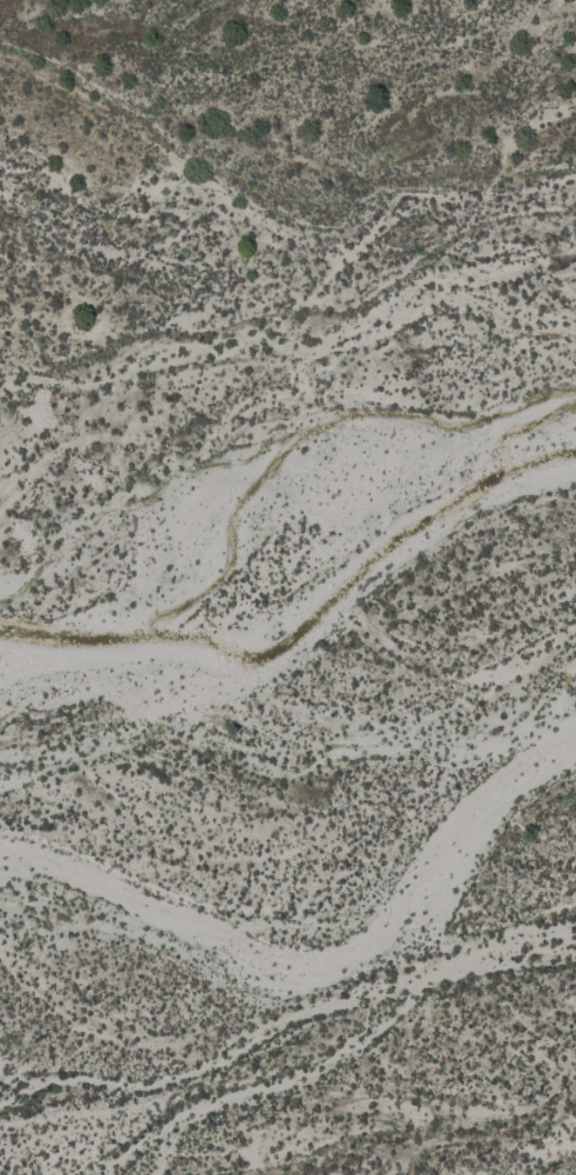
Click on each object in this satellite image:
river: (285, 507)

